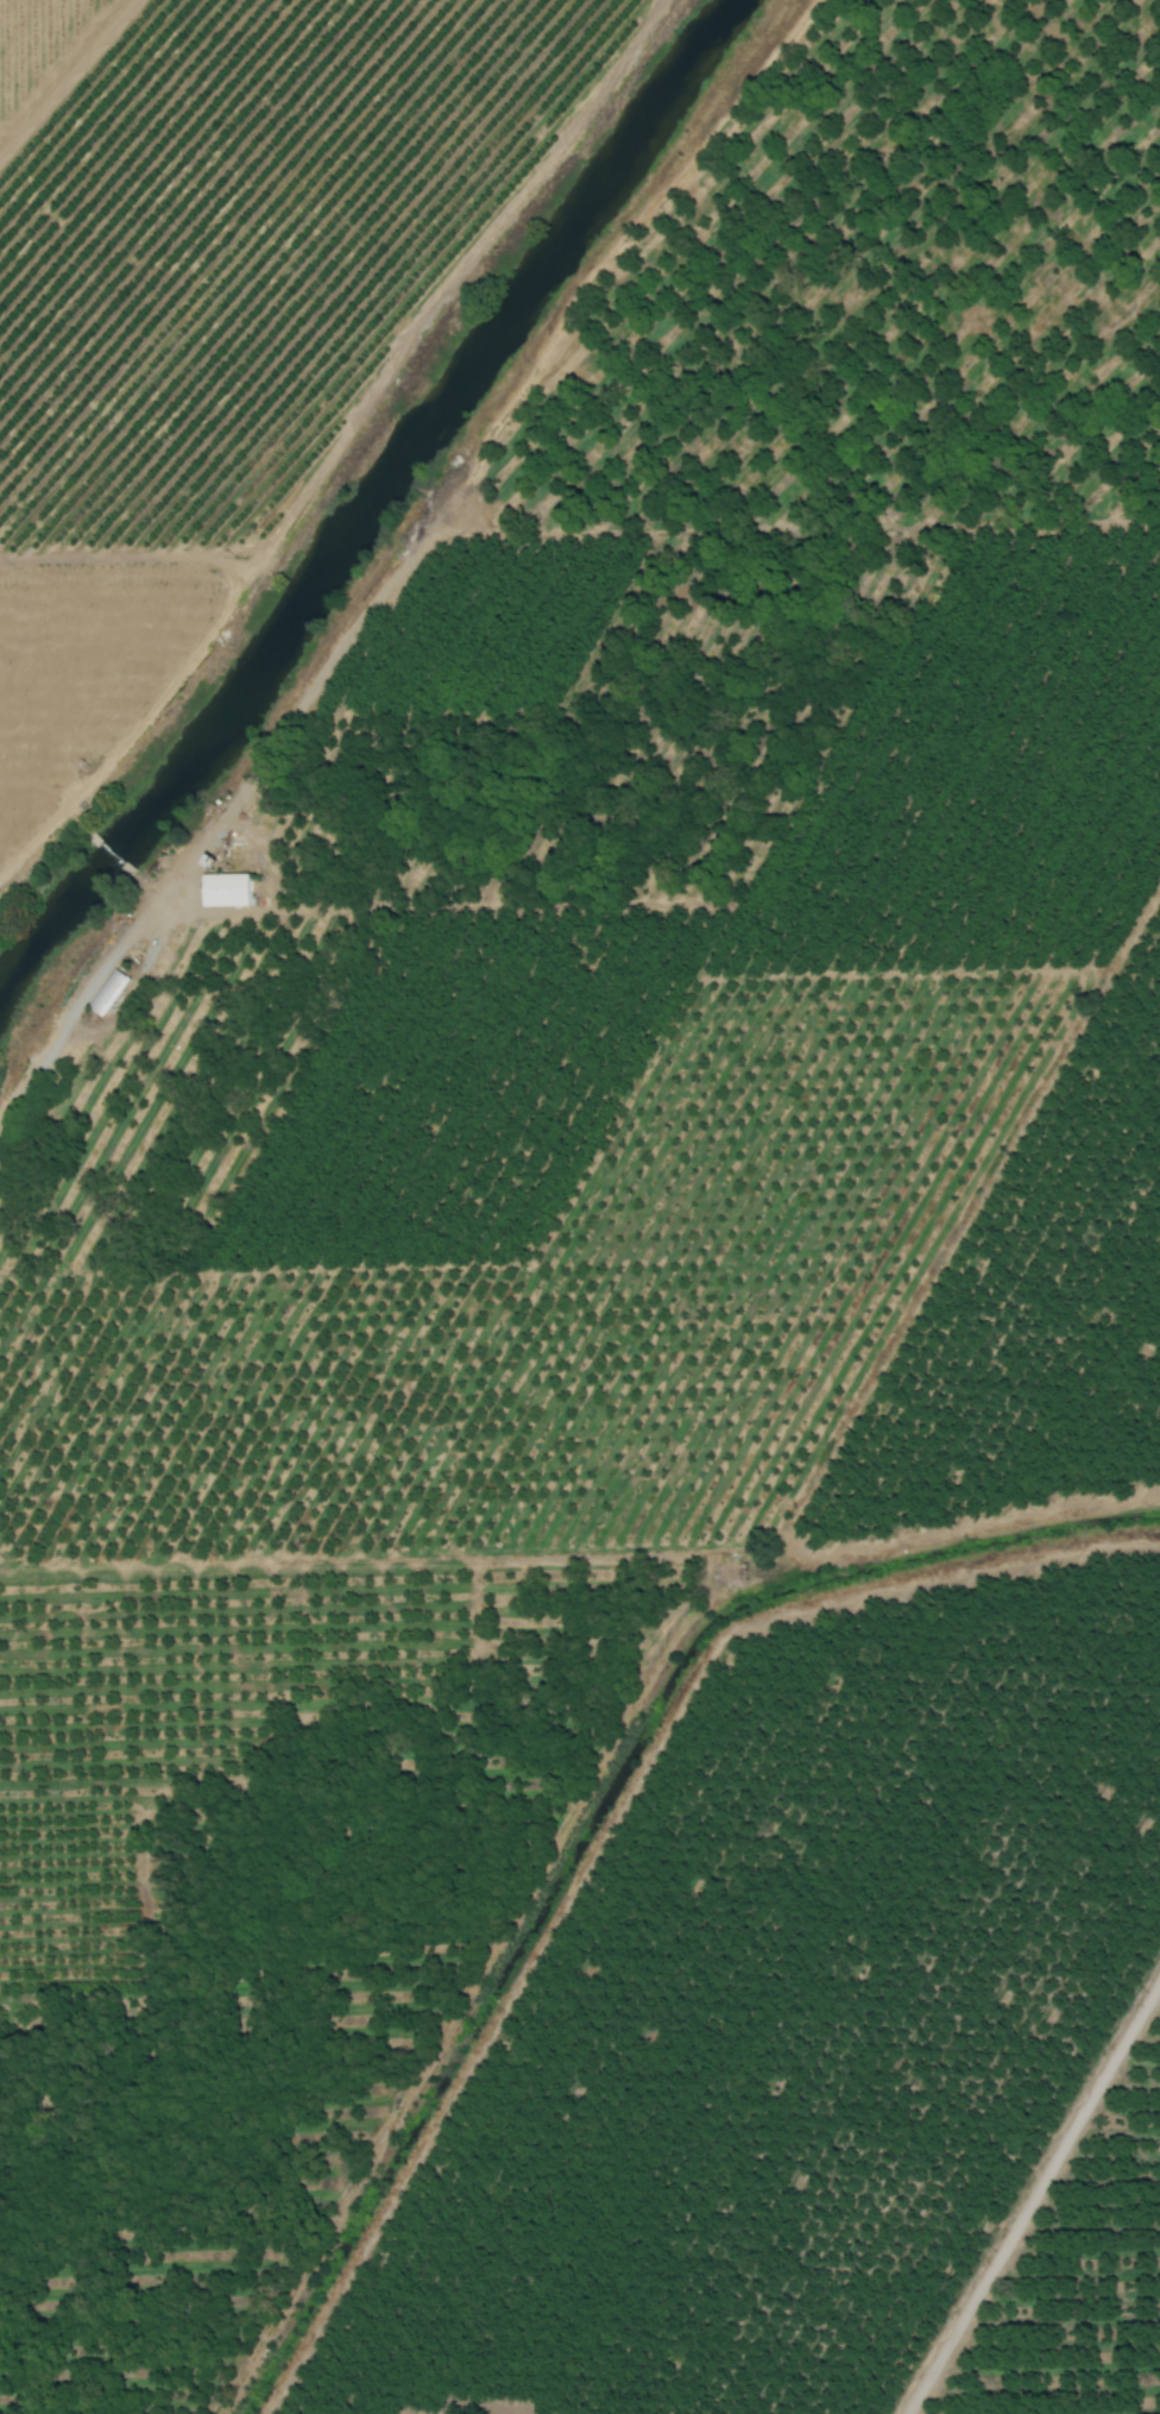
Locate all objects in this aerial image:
building: (229, 888)
building: (108, 989)
road: (62, 1027)

